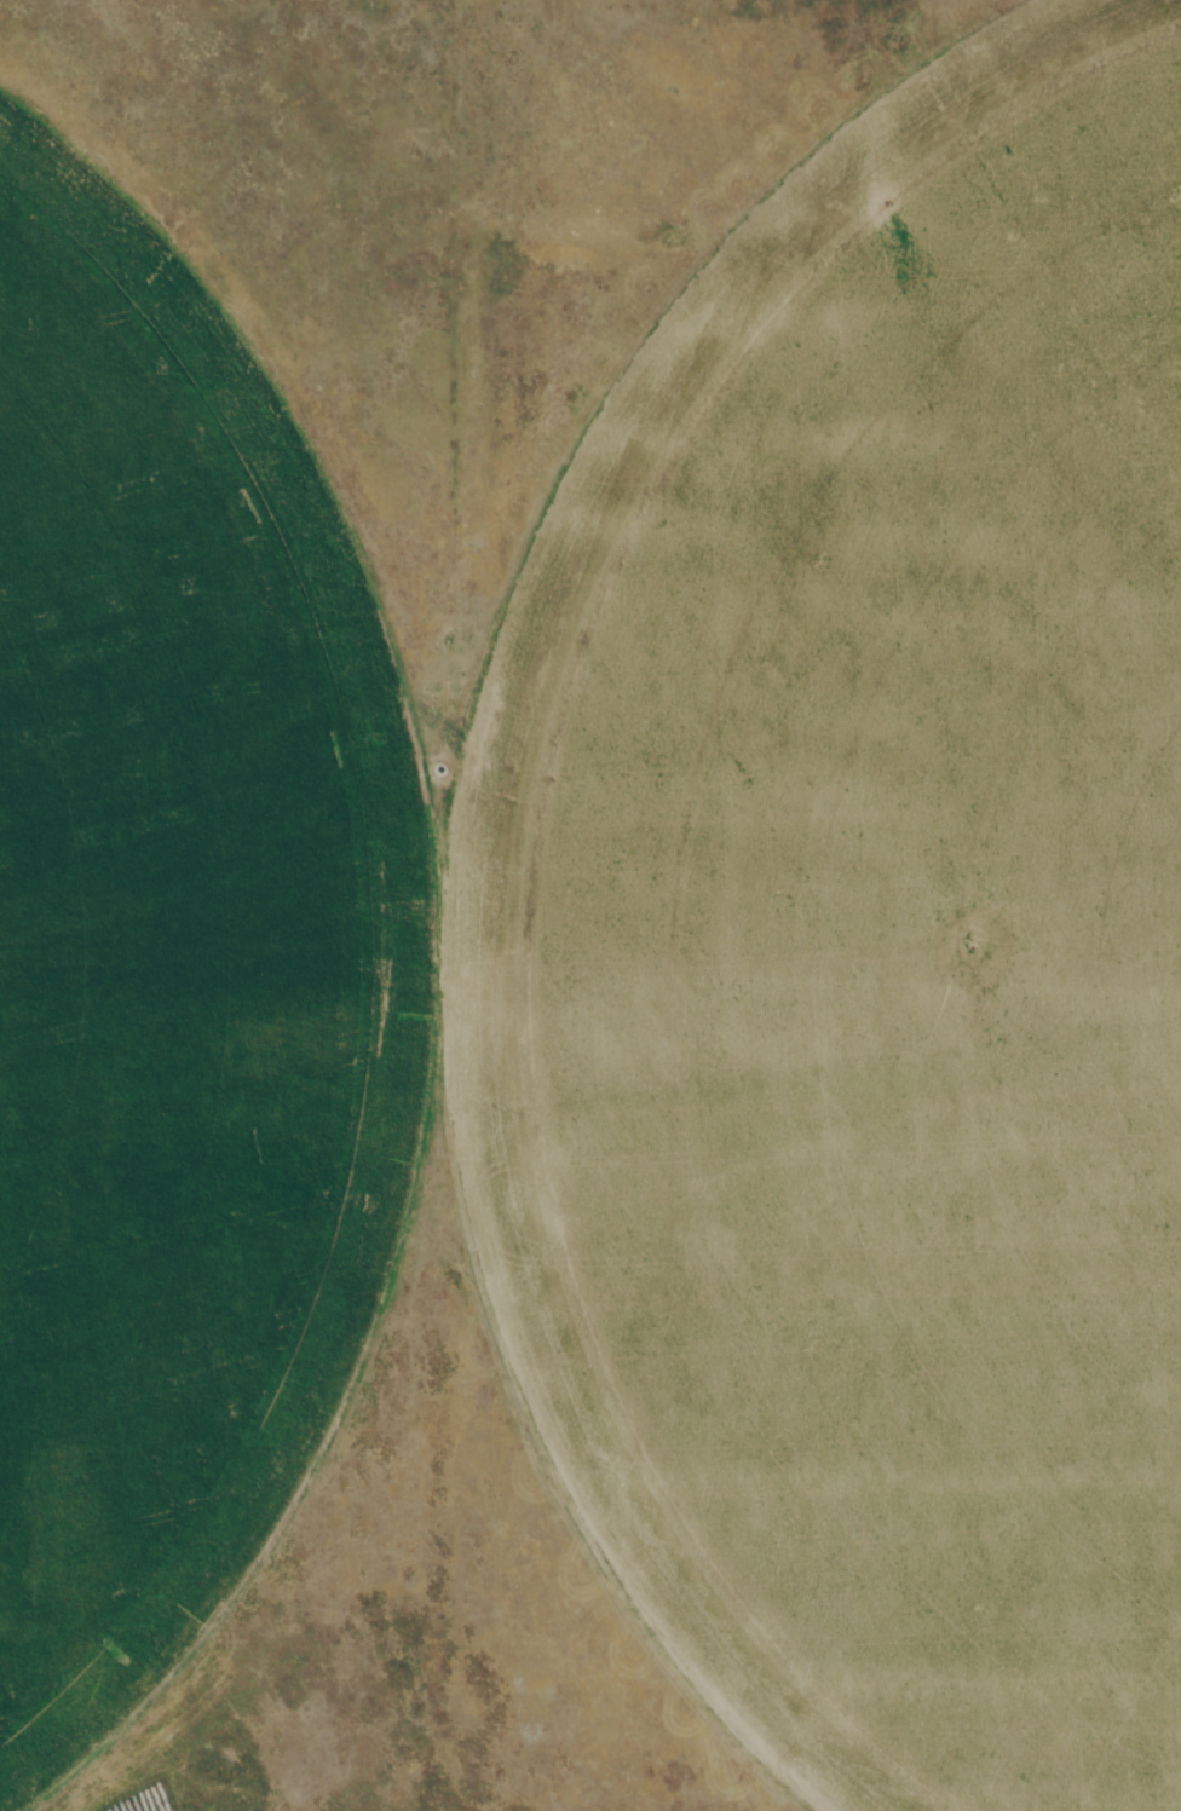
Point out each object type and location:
crop: (869, 945)
crop: (174, 954)

